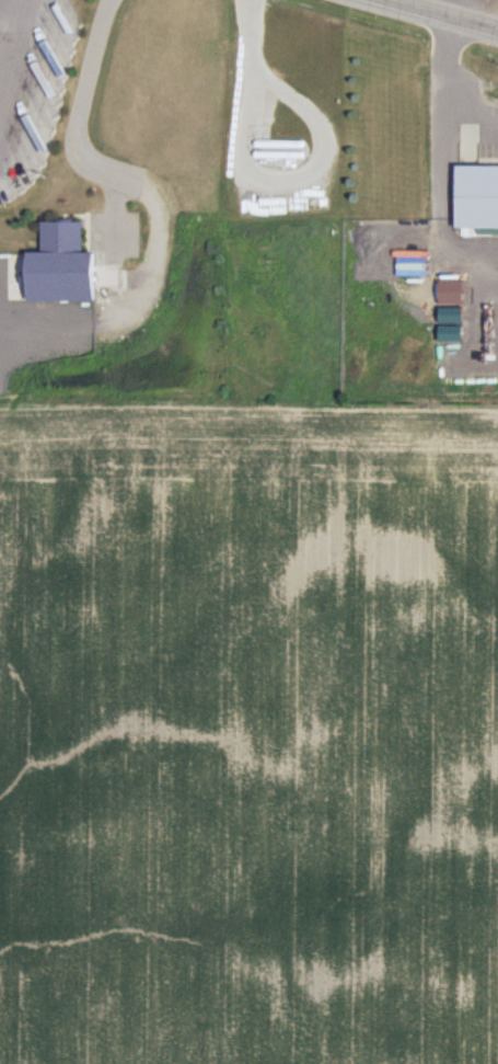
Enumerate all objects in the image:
road: (441, 14)
road: (247, 33)
road: (8, 35)
parking lot: (31, 87)
road: (441, 90)
road: (296, 178)
building: (475, 196)
road: (153, 202)
road: (114, 211)
parking lot: (114, 234)
building: (66, 267)
building: (451, 313)
building: (451, 333)
crop: (248, 732)

